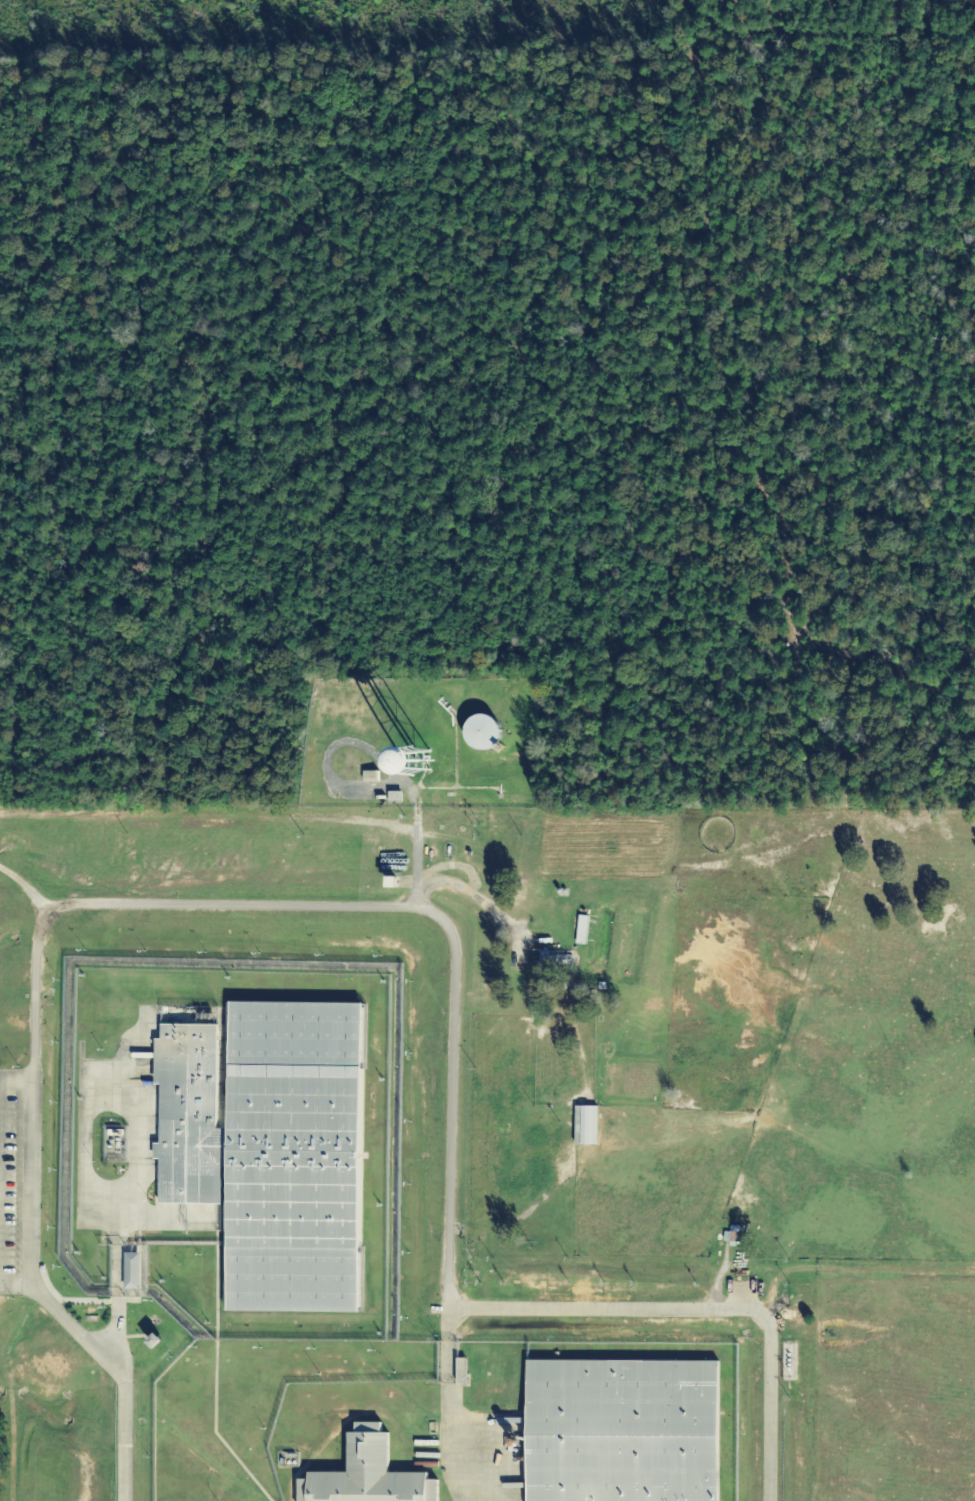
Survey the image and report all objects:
building: (480, 734)
road: (377, 907)
building: (580, 929)
building: (554, 958)
building: (584, 1125)
building: (270, 1147)
parking lot: (11, 1174)
building: (731, 1235)
building: (130, 1270)
building: (621, 1430)
building: (366, 1474)

